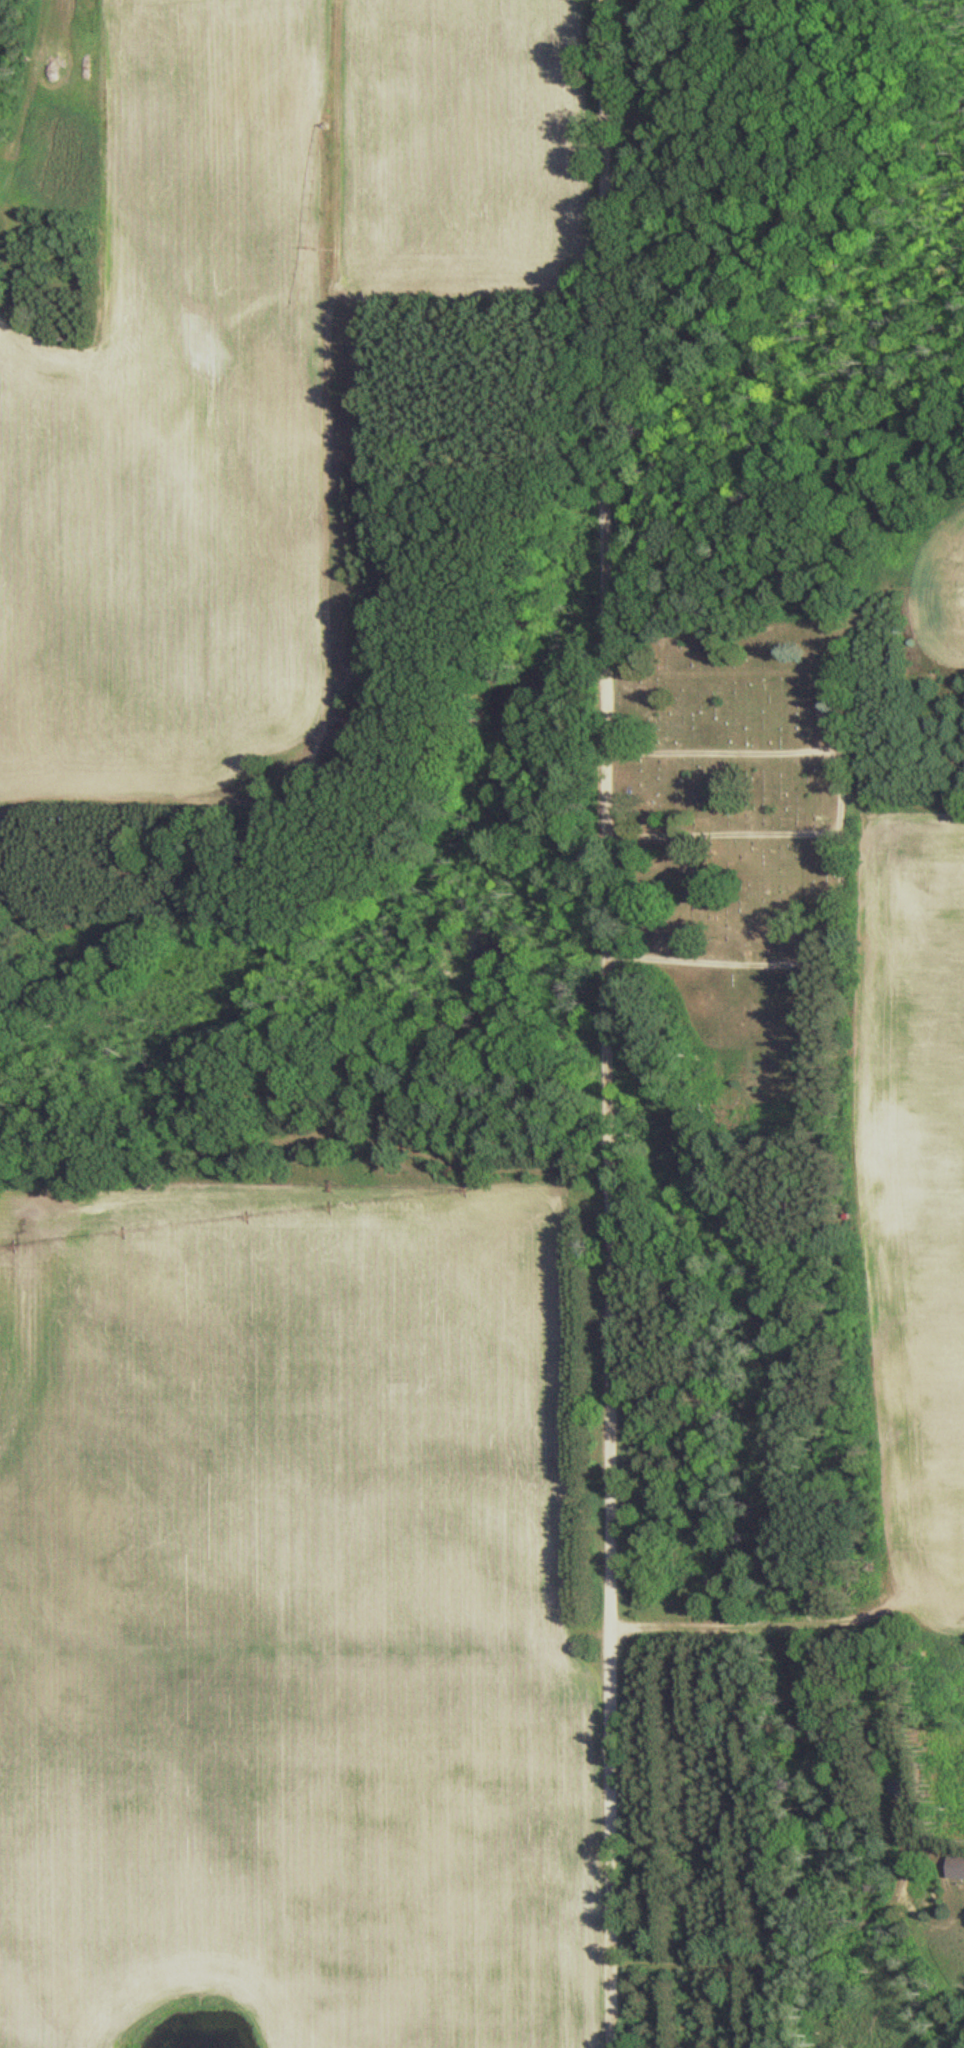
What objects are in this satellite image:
road: (769, 664)
road: (762, 742)
road: (775, 828)
park: (735, 864)
road: (729, 957)
road: (609, 1023)
building: (901, 1791)
building: (956, 1867)

